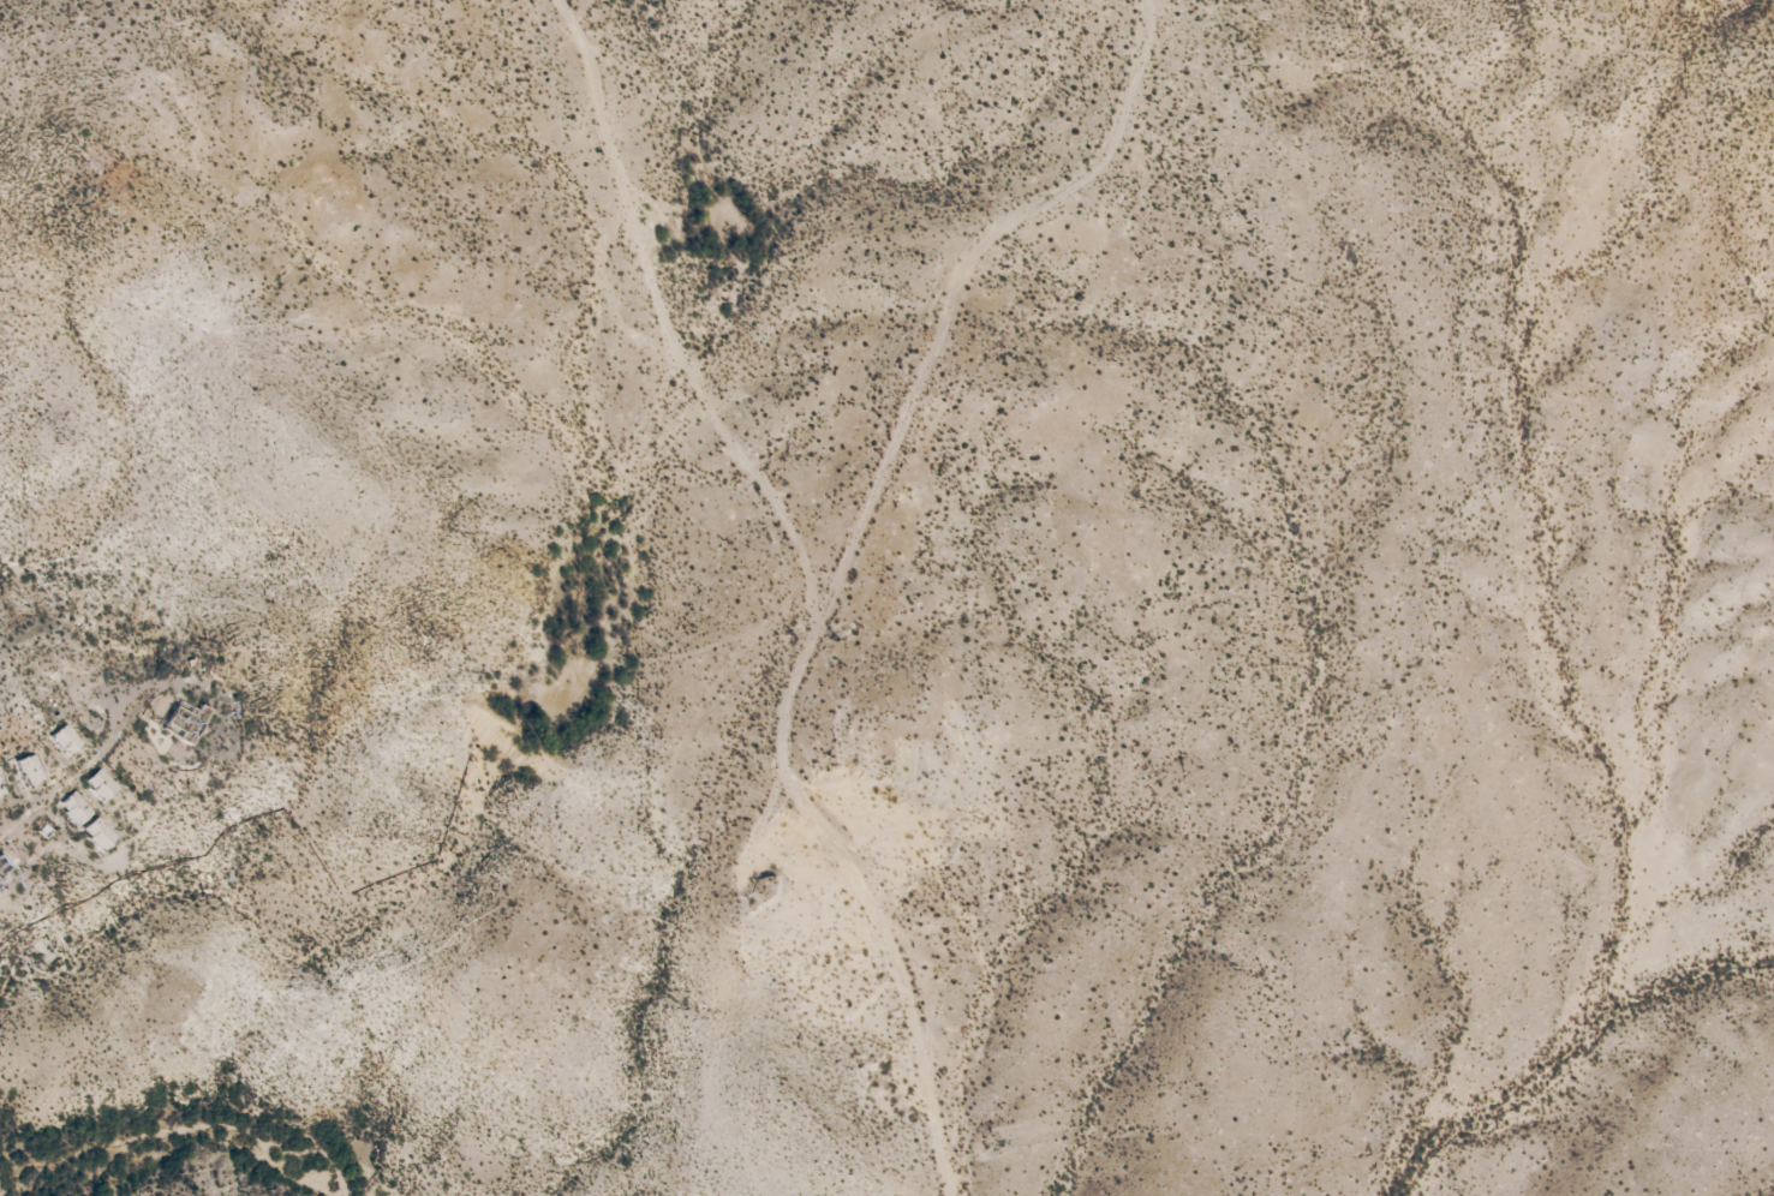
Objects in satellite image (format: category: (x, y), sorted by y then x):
road: (849, 569)
road: (53, 796)

